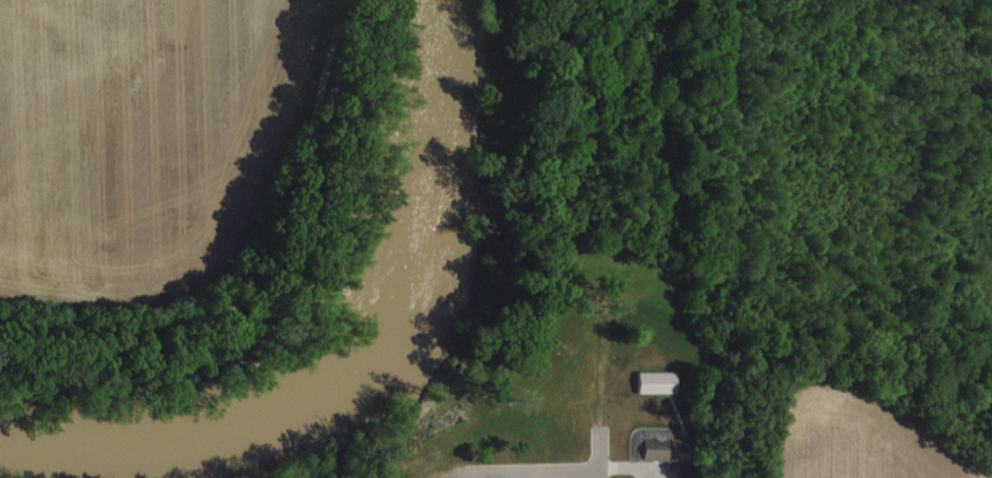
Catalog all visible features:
road: (267, 274)
river: (358, 365)
building: (658, 391)
building: (668, 458)
road: (527, 472)
road: (597, 474)

